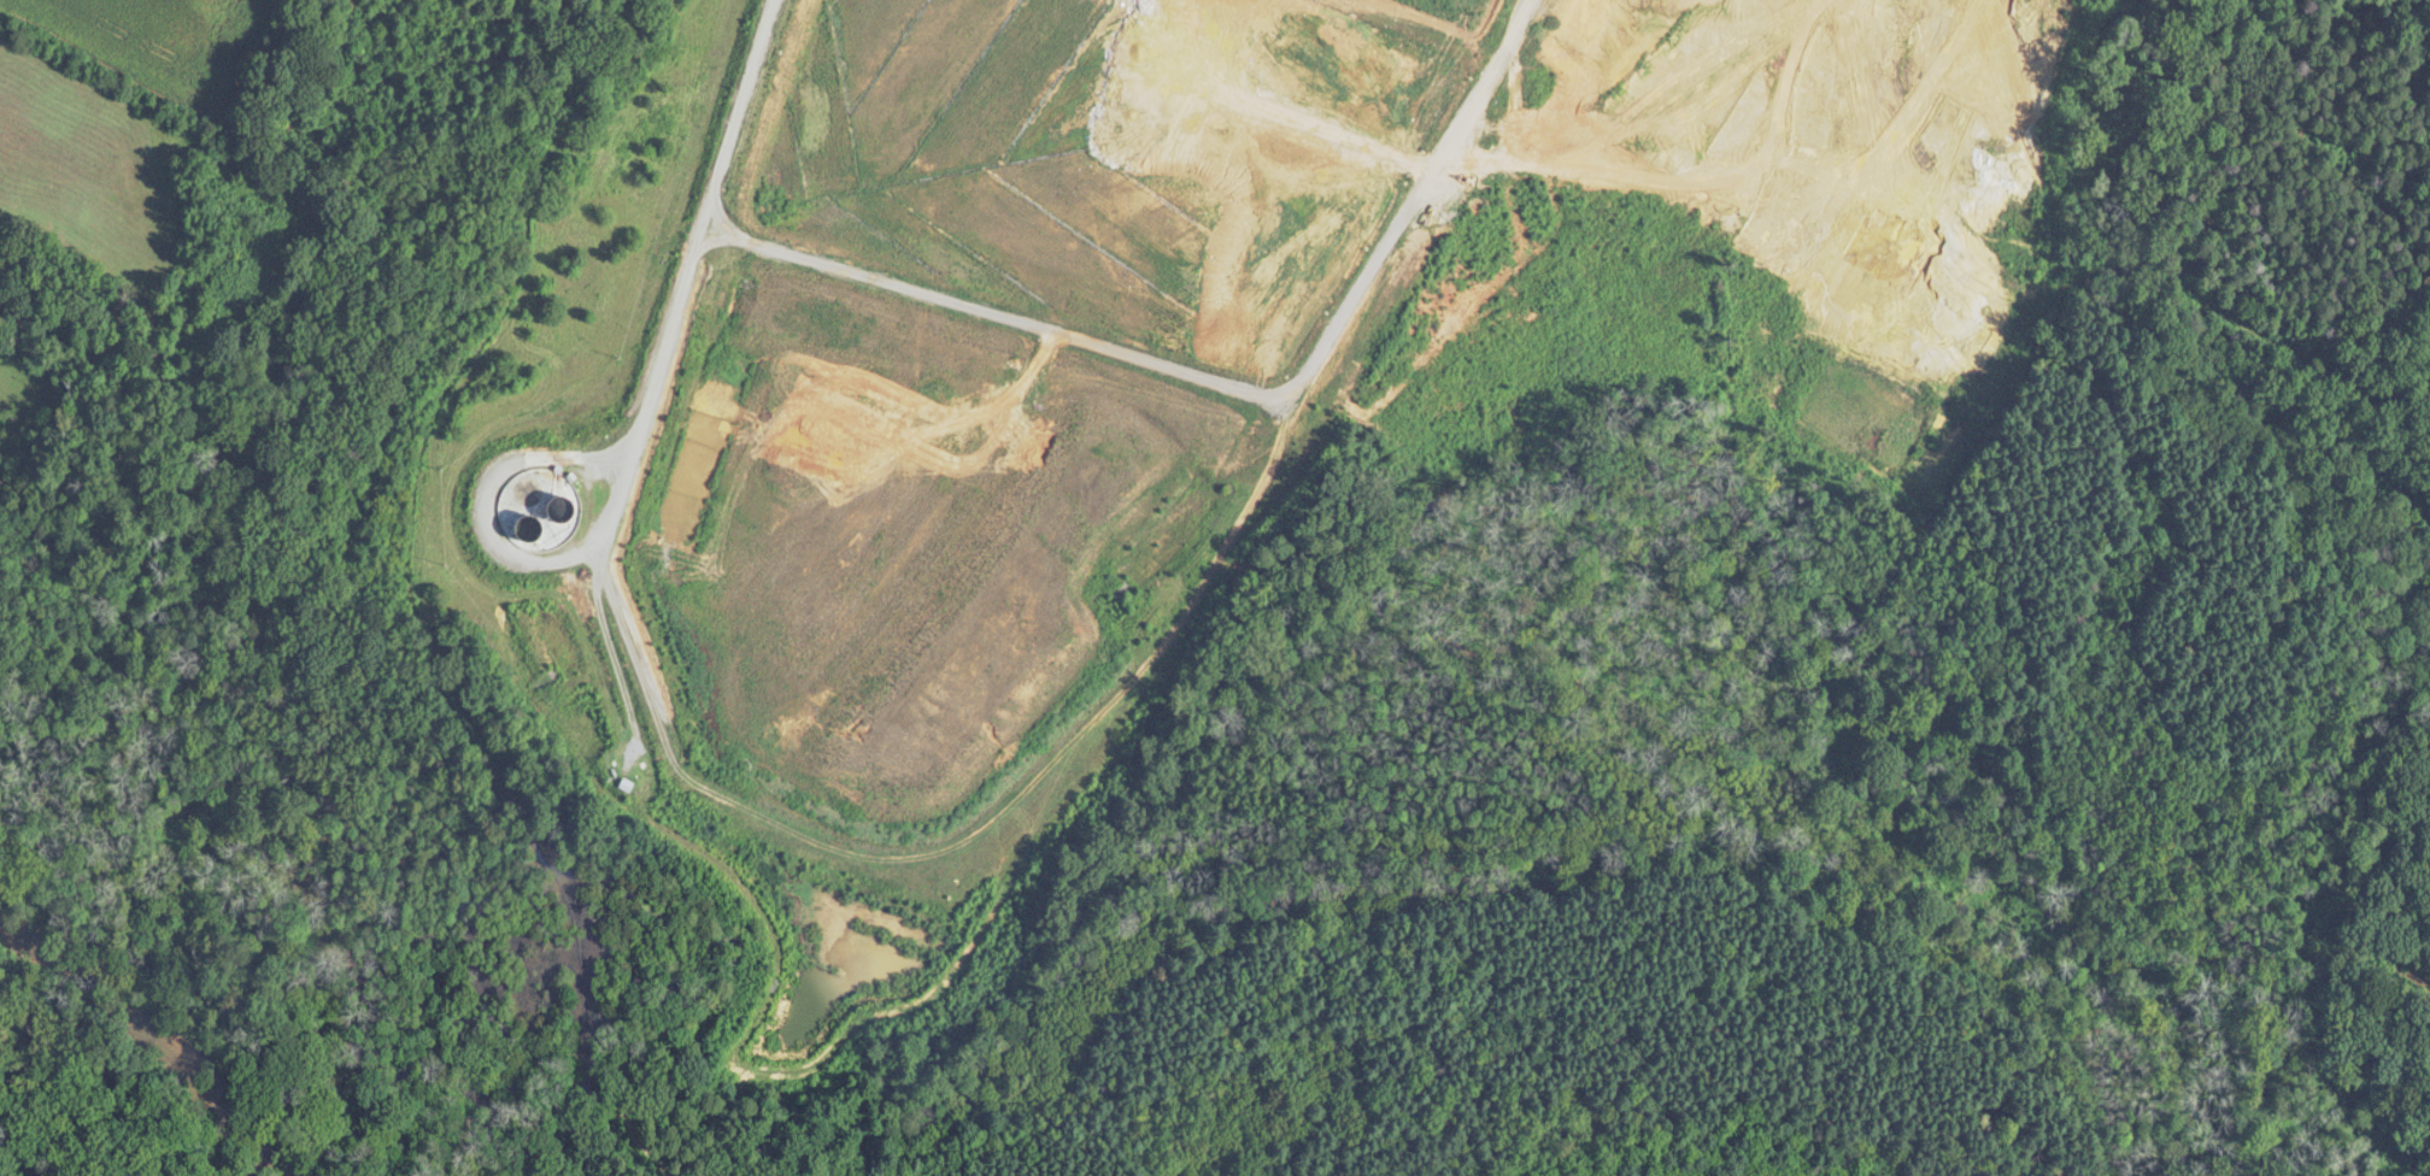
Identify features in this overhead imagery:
building: (536, 511)

